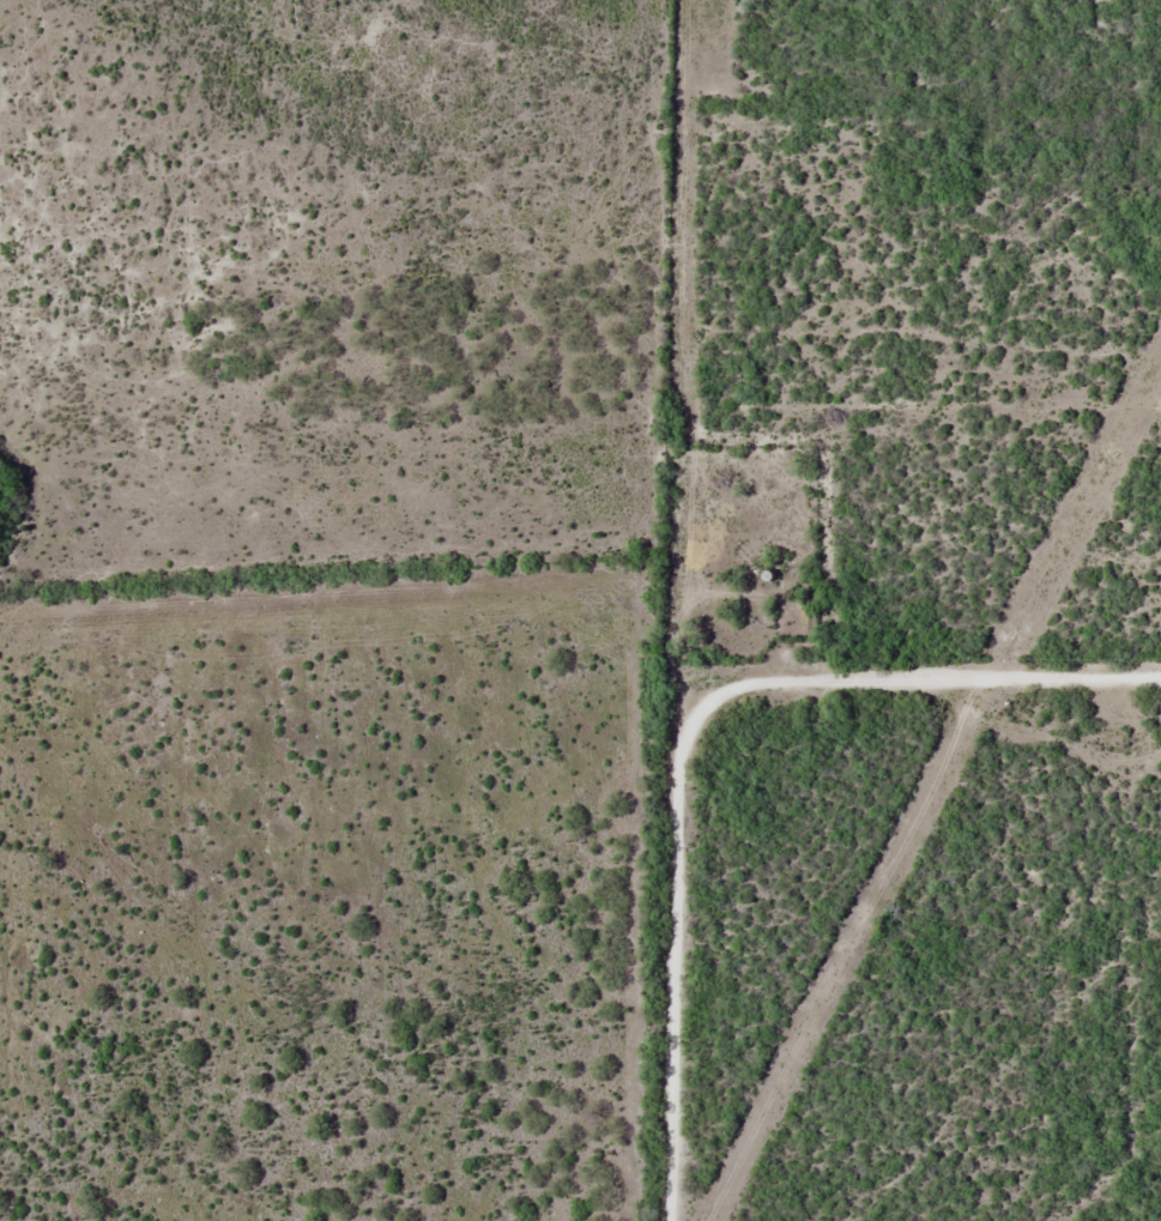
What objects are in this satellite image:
road: (685, 729)

